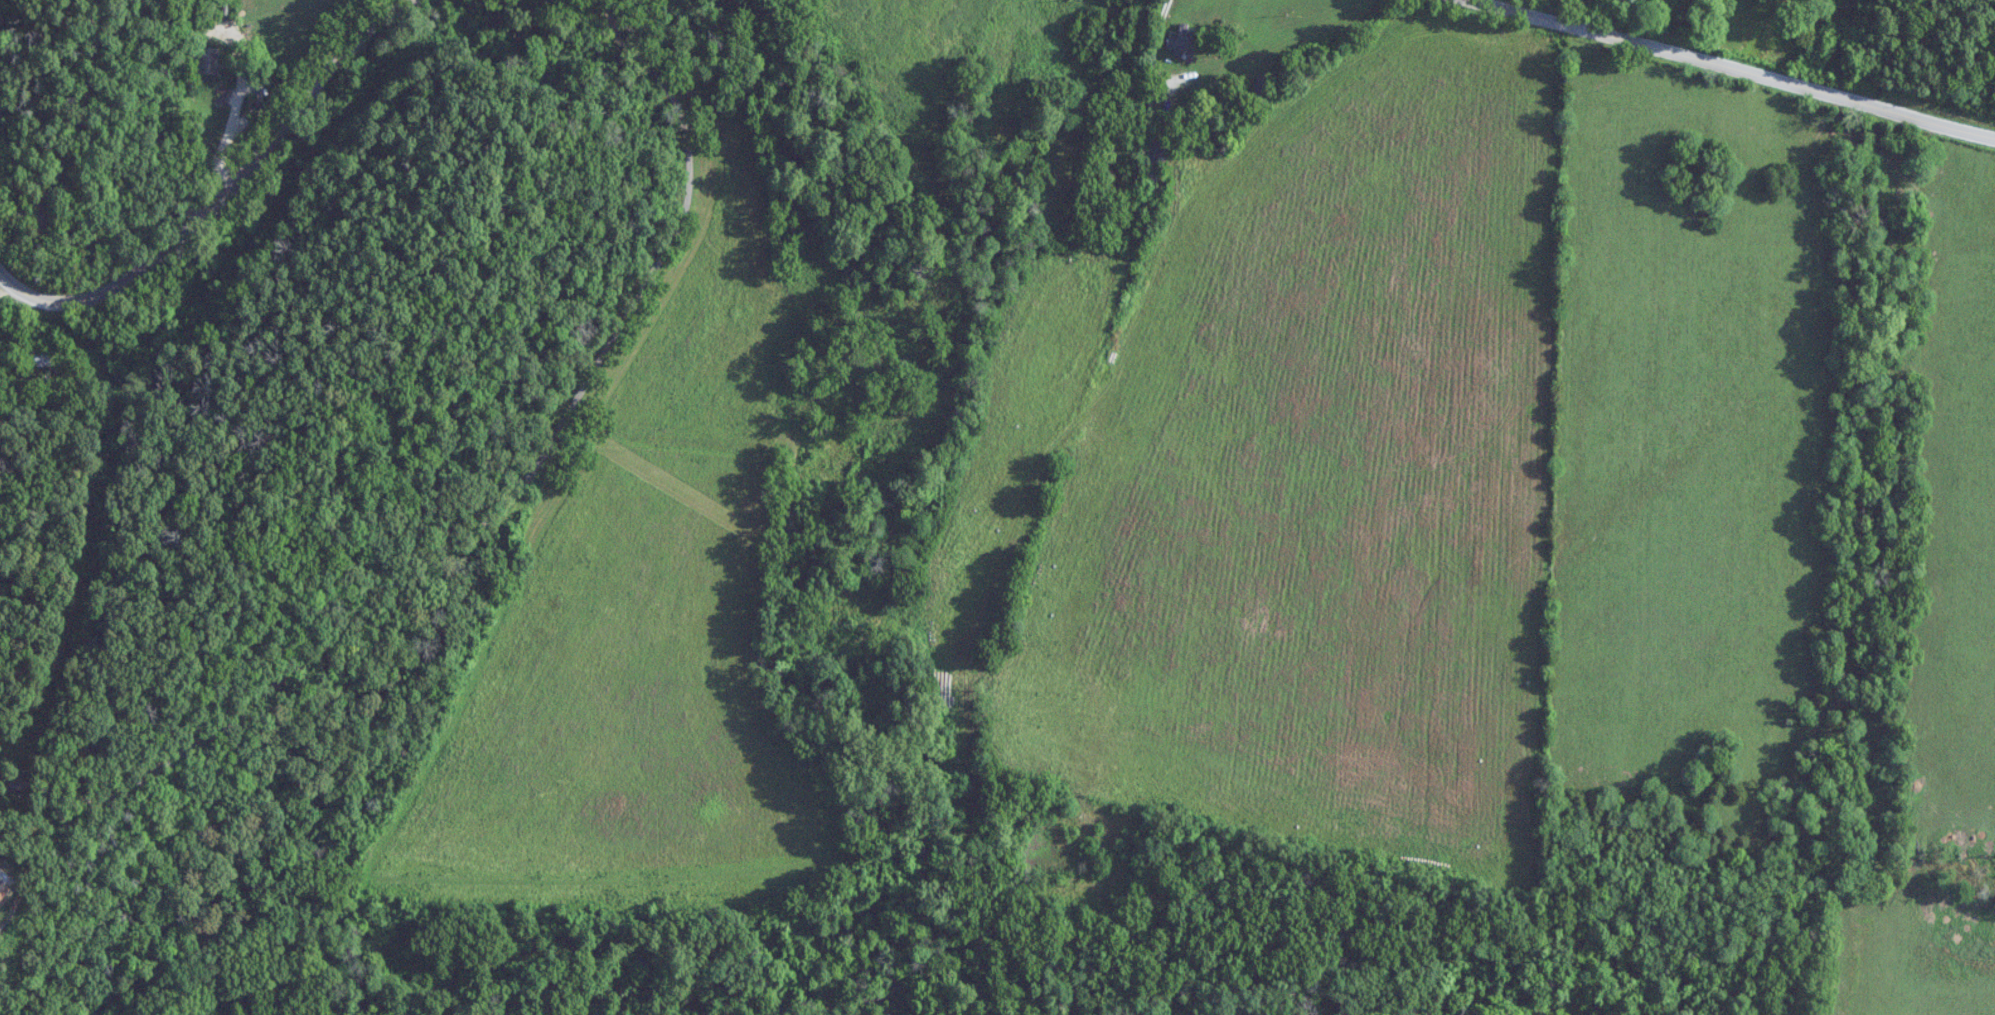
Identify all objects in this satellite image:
building: (199, 29)
road: (1166, 39)
building: (1184, 39)
building: (205, 60)
road: (1730, 68)
building: (1262, 88)
building: (1157, 149)
road: (46, 194)
road: (225, 194)
road: (6, 285)
building: (36, 358)
road: (132, 421)
crop: (1318, 472)
road: (492, 512)
building: (3, 890)

